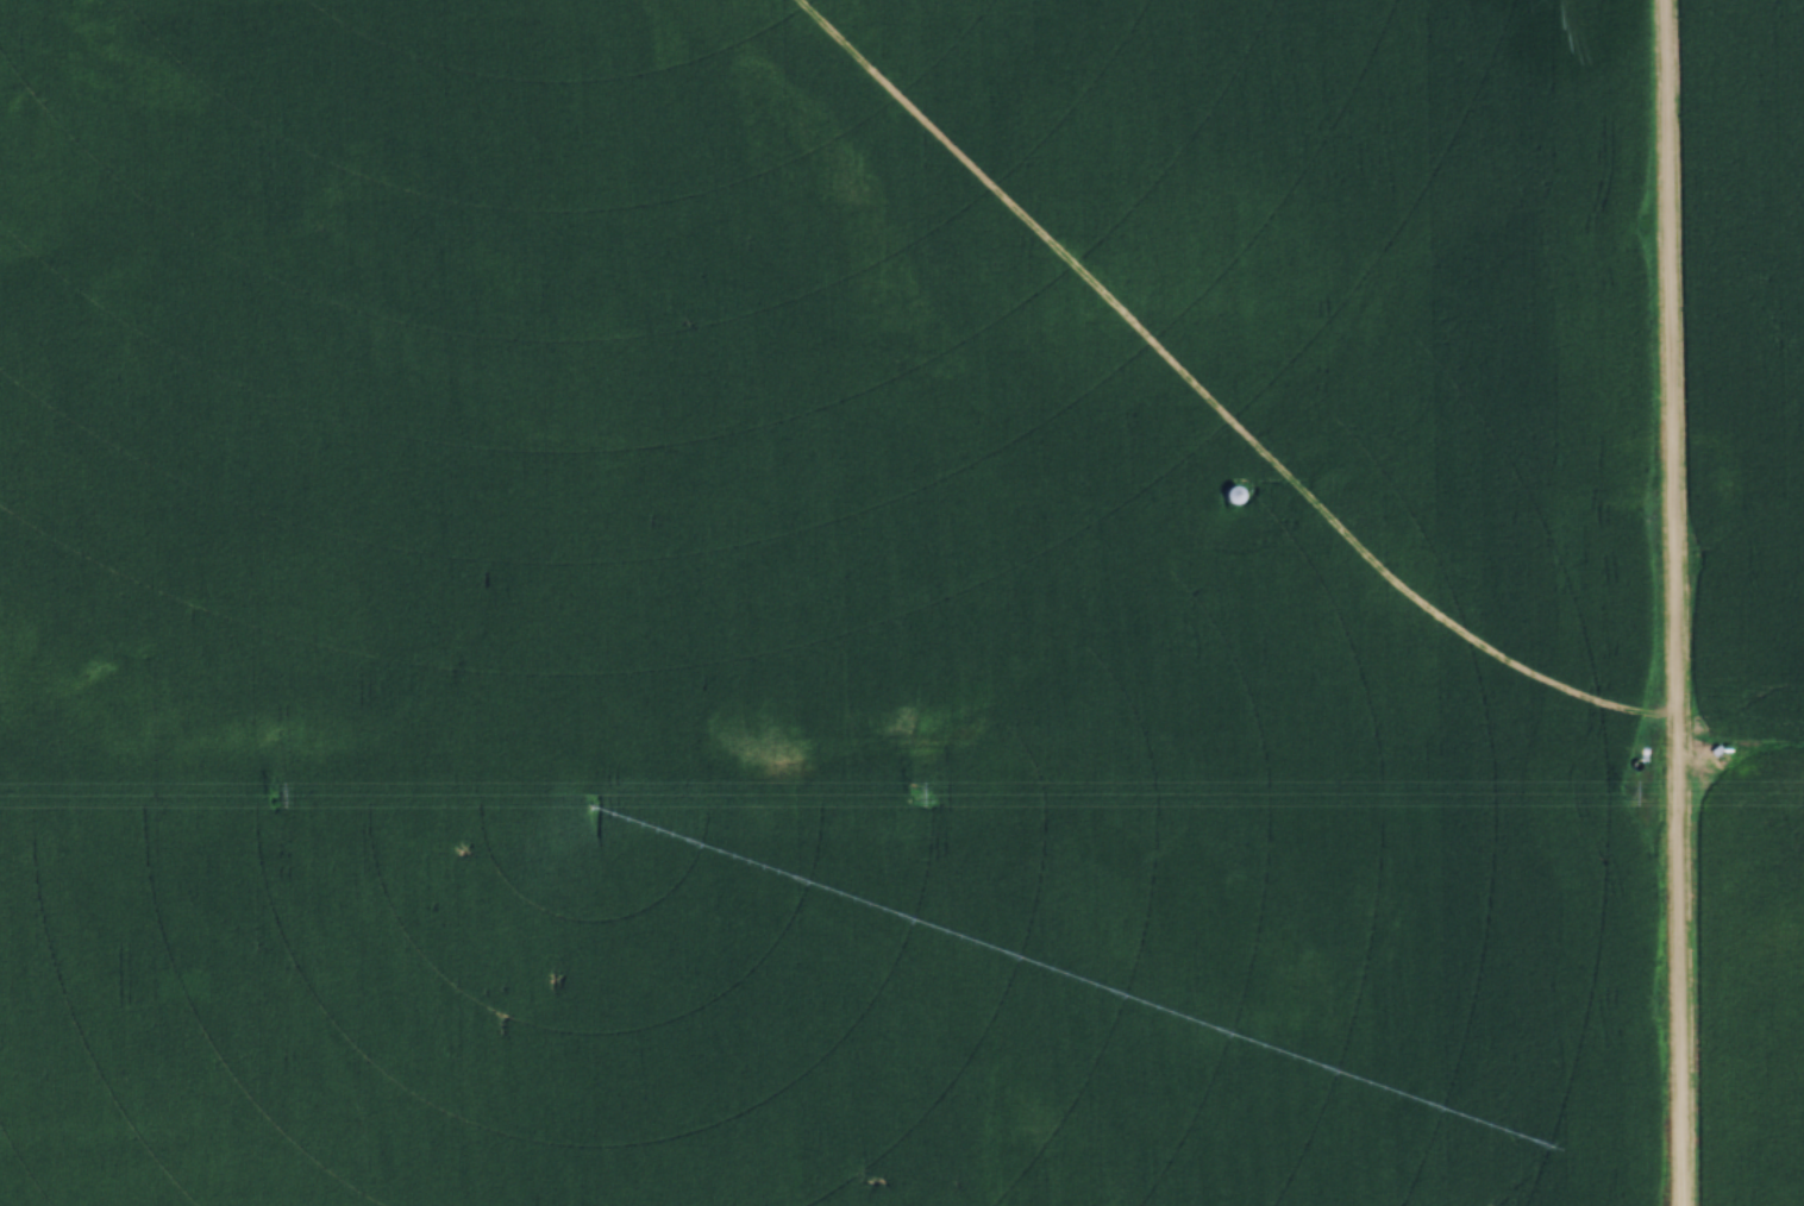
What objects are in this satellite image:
road: (1677, 602)
power tower: (1623, 791)
power tower: (275, 793)
power tower: (914, 793)

